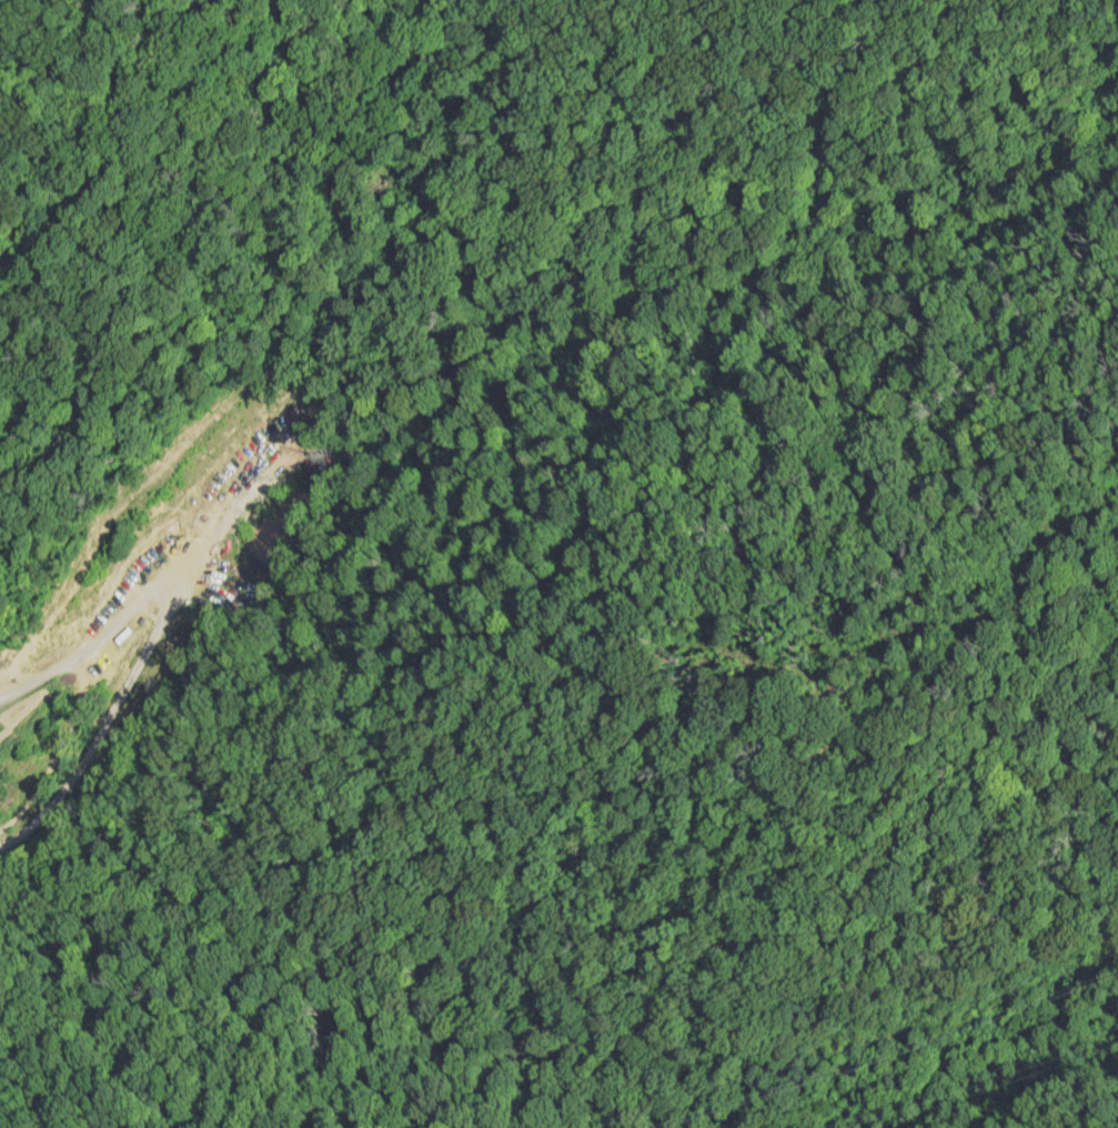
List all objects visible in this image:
building: (260, 466)

